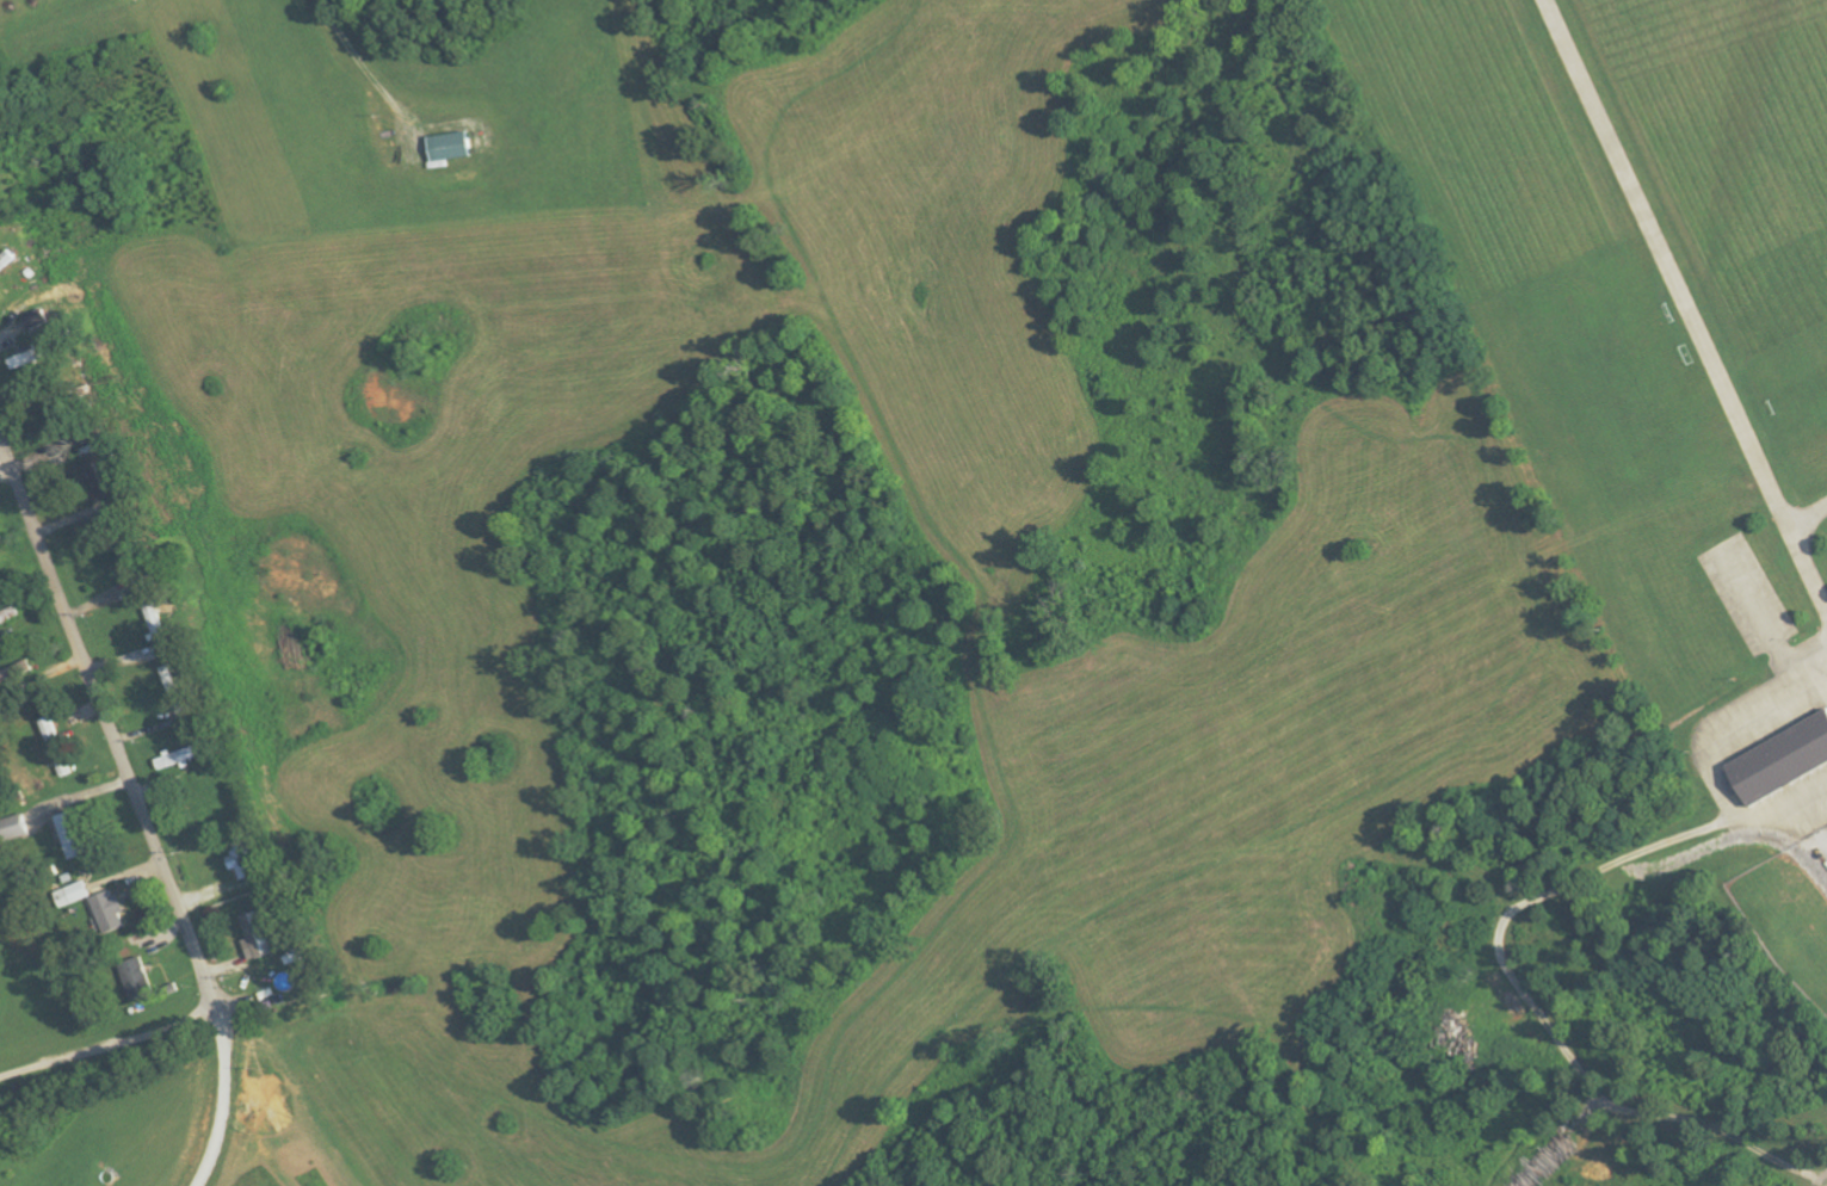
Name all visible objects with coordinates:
road: (354, 70)
building: (452, 146)
road: (1674, 303)
road: (1806, 514)
road: (107, 718)
road: (1706, 749)
building: (1783, 761)
building: (74, 835)
building: (247, 857)
building: (74, 894)
building: (110, 912)
building: (260, 935)
building: (137, 978)
road: (203, 992)
road: (97, 1030)
road: (228, 1091)

